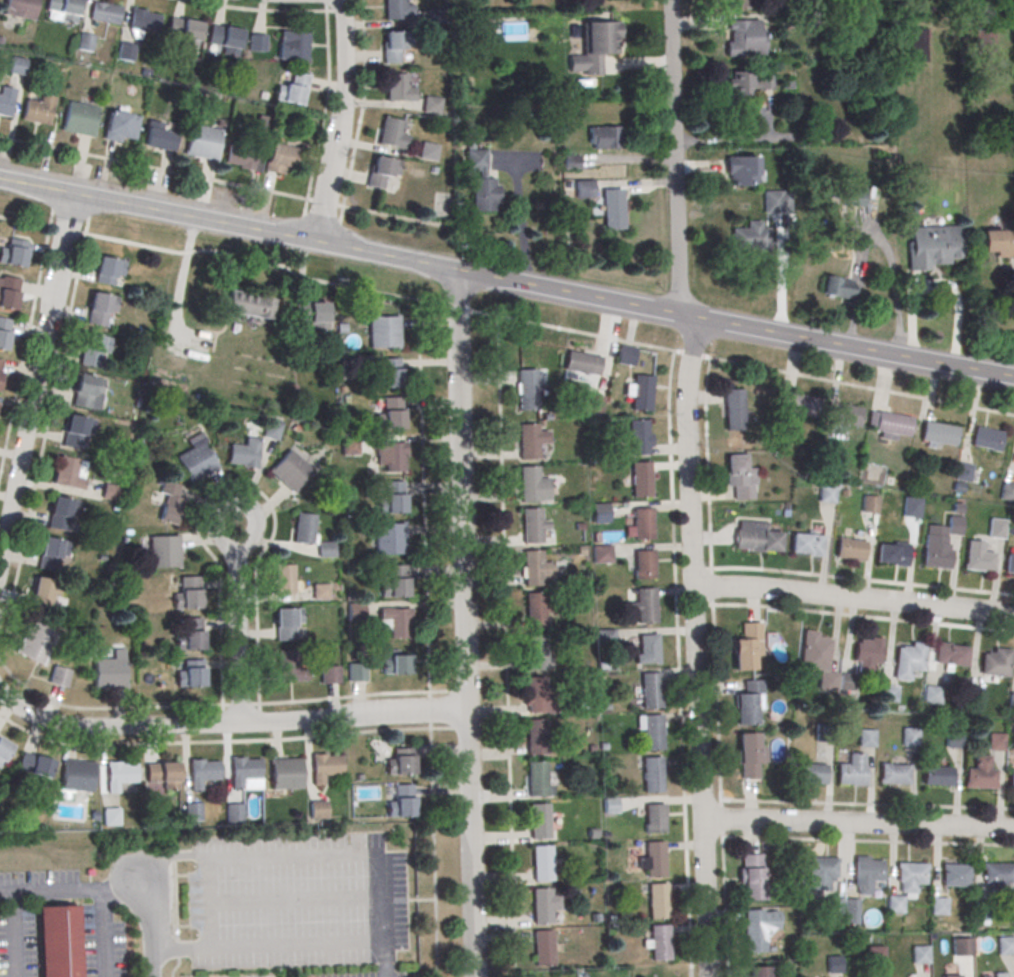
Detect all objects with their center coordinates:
building: (737, 4)
road: (325, 5)
building: (25, 6)
building: (65, 9)
road: (255, 9)
building: (397, 10)
building: (105, 13)
building: (434, 17)
road: (741, 18)
building: (144, 22)
building: (821, 23)
building: (185, 32)
building: (226, 39)
building: (746, 39)
building: (984, 40)
building: (86, 43)
building: (257, 43)
building: (917, 44)
building: (292, 45)
building: (394, 45)
building: (595, 47)
building: (127, 52)
road: (637, 62)
building: (16, 66)
building: (749, 84)
building: (398, 88)
building: (293, 90)
building: (6, 101)
road: (361, 104)
building: (431, 105)
road: (325, 106)
building: (38, 108)
building: (79, 119)
road: (341, 121)
building: (261, 125)
building: (121, 127)
building: (392, 134)
building: (159, 137)
building: (606, 138)
road: (743, 139)
building: (203, 141)
building: (428, 152)
building: (244, 158)
building: (280, 158)
road: (627, 160)
building: (571, 163)
road: (701, 166)
building: (743, 171)
building: (382, 172)
road: (225, 183)
building: (482, 183)
road: (634, 184)
building: (584, 189)
building: (855, 197)
building: (777, 202)
road: (520, 210)
building: (613, 210)
building: (751, 238)
building: (999, 244)
building: (934, 247)
building: (14, 253)
road: (302, 269)
building: (108, 271)
road: (781, 273)
road: (860, 276)
road: (506, 280)
road: (919, 280)
building: (838, 288)
road: (936, 289)
building: (8, 292)
road: (178, 294)
building: (248, 306)
building: (100, 309)
building: (311, 315)
road: (504, 318)
building: (4, 333)
building: (384, 333)
building: (93, 350)
road: (24, 352)
building: (626, 356)
building: (583, 364)
building: (1, 366)
building: (389, 374)
road: (38, 375)
building: (87, 391)
building: (528, 391)
building: (641, 394)
building: (594, 403)
building: (798, 406)
building: (734, 410)
building: (391, 414)
building: (843, 415)
building: (893, 425)
road: (46, 428)
building: (272, 431)
building: (76, 432)
building: (939, 435)
building: (638, 439)
building: (990, 440)
building: (528, 442)
building: (350, 447)
building: (245, 454)
road: (706, 455)
building: (393, 456)
building: (197, 459)
building: (290, 471)
building: (68, 472)
building: (964, 473)
building: (741, 476)
building: (641, 481)
road: (689, 484)
building: (530, 486)
building: (111, 491)
building: (1007, 493)
building: (827, 495)
building: (392, 499)
building: (170, 504)
building: (870, 505)
building: (911, 509)
building: (61, 514)
building: (601, 514)
building: (644, 523)
building: (532, 527)
building: (954, 527)
building: (997, 529)
building: (304, 530)
building: (757, 539)
building: (391, 540)
building: (806, 545)
building: (326, 550)
building: (851, 550)
building: (52, 553)
building: (164, 553)
building: (603, 555)
building: (892, 556)
building: (979, 558)
building: (937, 559)
building: (1010, 565)
building: (645, 566)
building: (534, 569)
road: (844, 579)
building: (284, 580)
building: (395, 583)
building: (41, 592)
building: (321, 592)
building: (188, 595)
road: (854, 598)
building: (646, 606)
building: (356, 611)
building: (537, 611)
road: (863, 617)
road: (238, 622)
road: (464, 622)
building: (397, 623)
building: (285, 626)
building: (190, 636)
road: (427, 639)
building: (606, 640)
building: (36, 641)
road: (506, 647)
building: (748, 648)
building: (648, 651)
building: (815, 653)
building: (538, 654)
building: (867, 655)
building: (951, 656)
building: (395, 661)
building: (909, 662)
road: (679, 663)
building: (997, 664)
building: (290, 668)
building: (357, 673)
building: (110, 674)
building: (60, 675)
building: (191, 676)
building: (330, 676)
building: (828, 682)
building: (846, 684)
building: (651, 692)
building: (536, 693)
building: (889, 695)
building: (932, 696)
road: (717, 703)
building: (1011, 703)
building: (750, 704)
road: (205, 706)
road: (228, 723)
building: (653, 735)
building: (911, 737)
building: (537, 739)
building: (867, 739)
building: (953, 740)
road: (211, 742)
building: (996, 743)
building: (4, 750)
building: (750, 752)
building: (400, 761)
building: (34, 765)
building: (324, 768)
building: (244, 772)
building: (202, 773)
building: (77, 774)
building: (120, 775)
building: (286, 775)
building: (653, 775)
building: (813, 775)
building: (981, 775)
building: (163, 776)
building: (852, 776)
building: (895, 776)
building: (938, 777)
building: (538, 780)
building: (1012, 781)
building: (401, 800)
building: (611, 807)
building: (192, 811)
building: (234, 811)
building: (111, 816)
road: (721, 818)
building: (656, 820)
building: (541, 822)
road: (859, 822)
building: (656, 861)
building: (543, 864)
building: (822, 869)
building: (868, 872)
building: (911, 875)
building: (955, 875)
building: (998, 875)
building: (752, 876)
road: (385, 887)
road: (72, 890)
road: (296, 901)
building: (659, 902)
road: (206, 903)
building: (546, 906)
building: (833, 906)
building: (895, 906)
building: (939, 908)
building: (982, 910)
building: (851, 913)
road: (160, 926)
building: (761, 928)
road: (103, 932)
road: (16, 935)
building: (58, 939)
building: (661, 943)
building: (1006, 947)
building: (961, 948)
building: (544, 950)
building: (877, 956)
building: (919, 956)
road: (388, 957)
building: (759, 971)
building: (1000, 974)
building: (955, 976)

